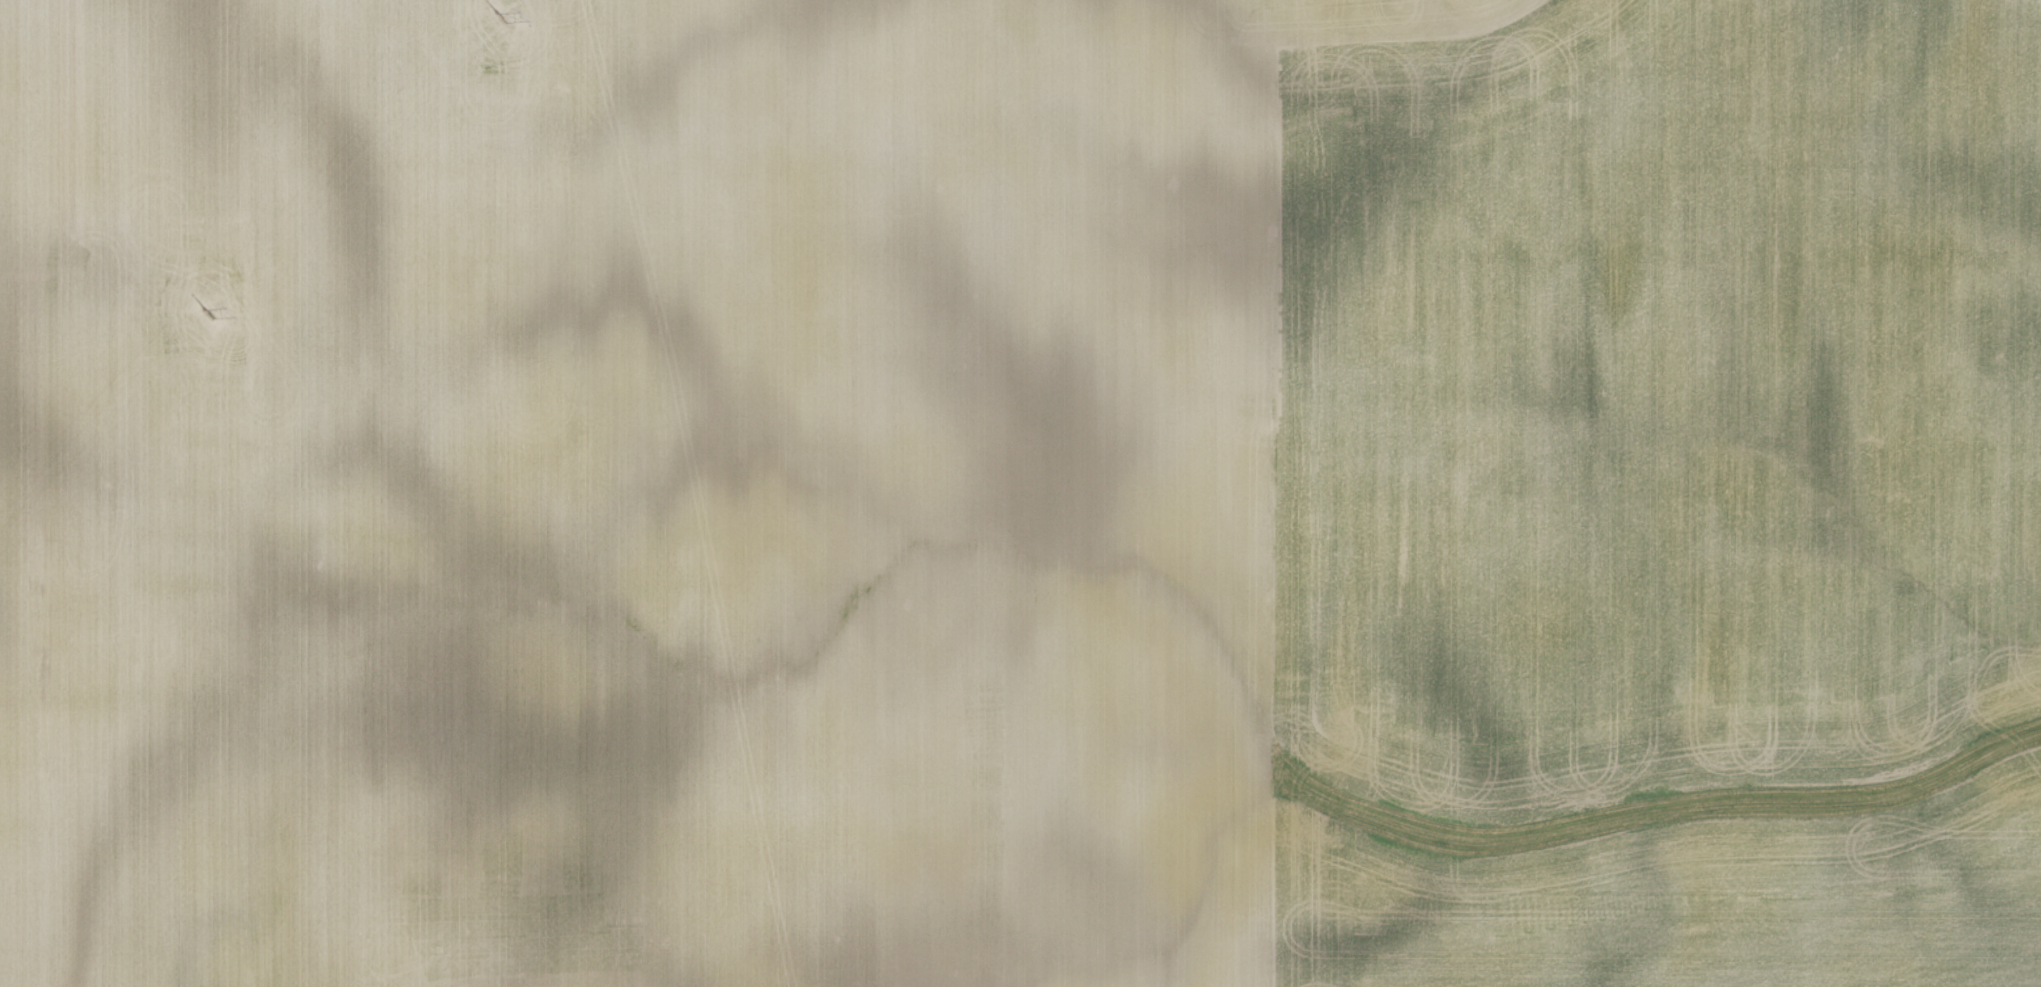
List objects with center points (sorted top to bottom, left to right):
power tower: (500, 19)
power tower: (208, 314)

